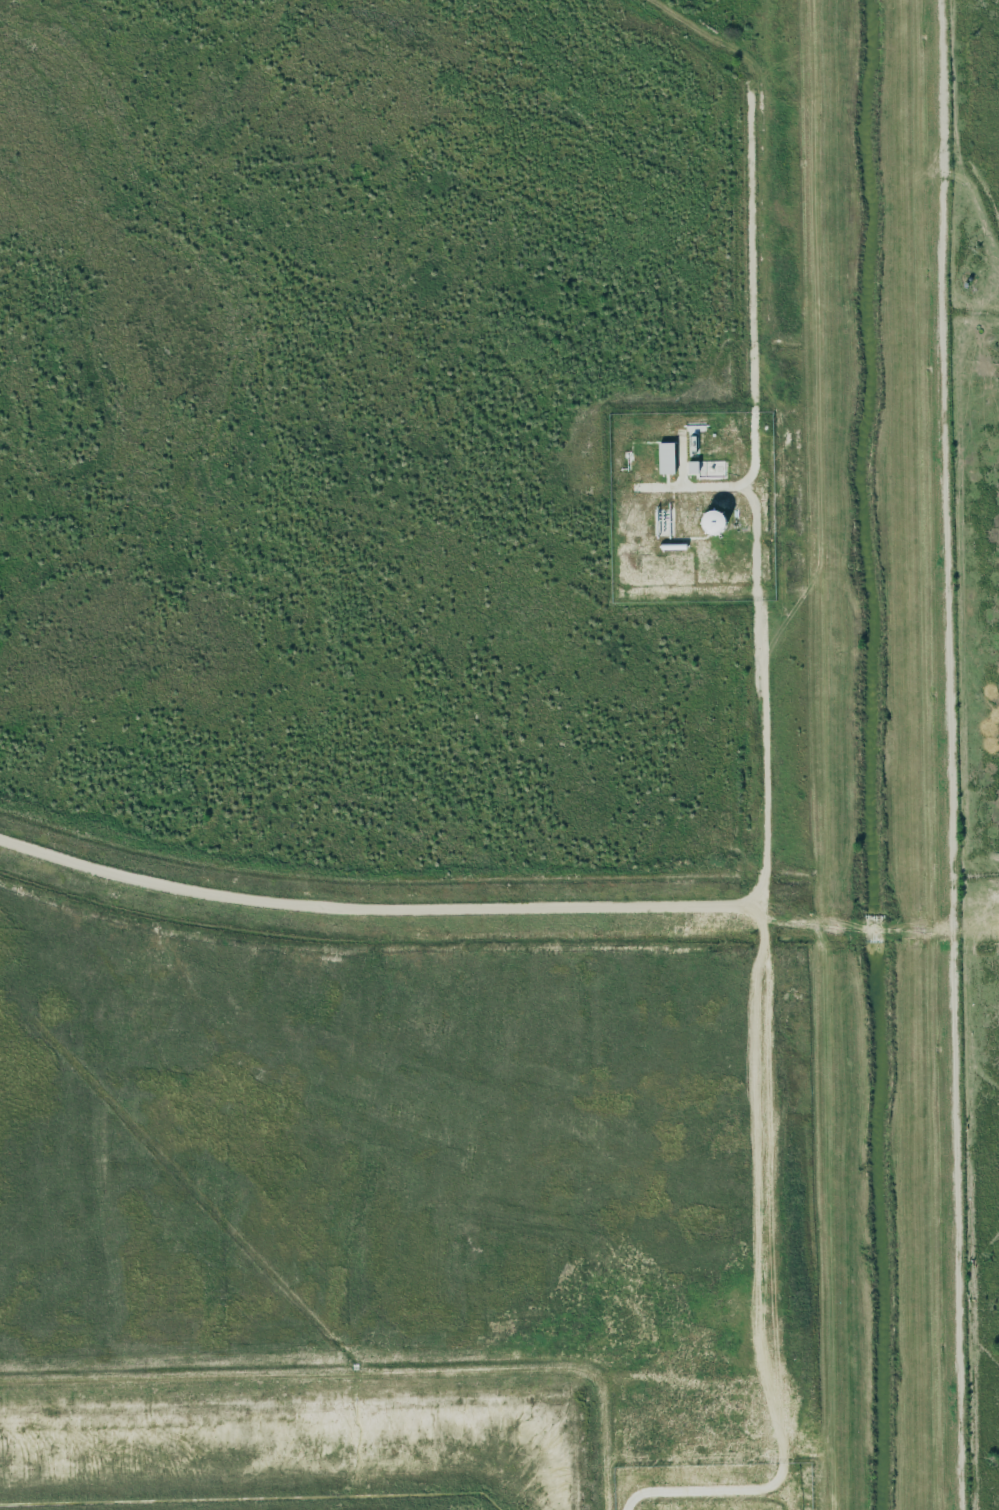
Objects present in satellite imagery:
railway: (996, 0)
building: (666, 458)
building: (693, 467)
road: (764, 724)
road: (982, 909)
road: (376, 911)
road: (866, 932)

